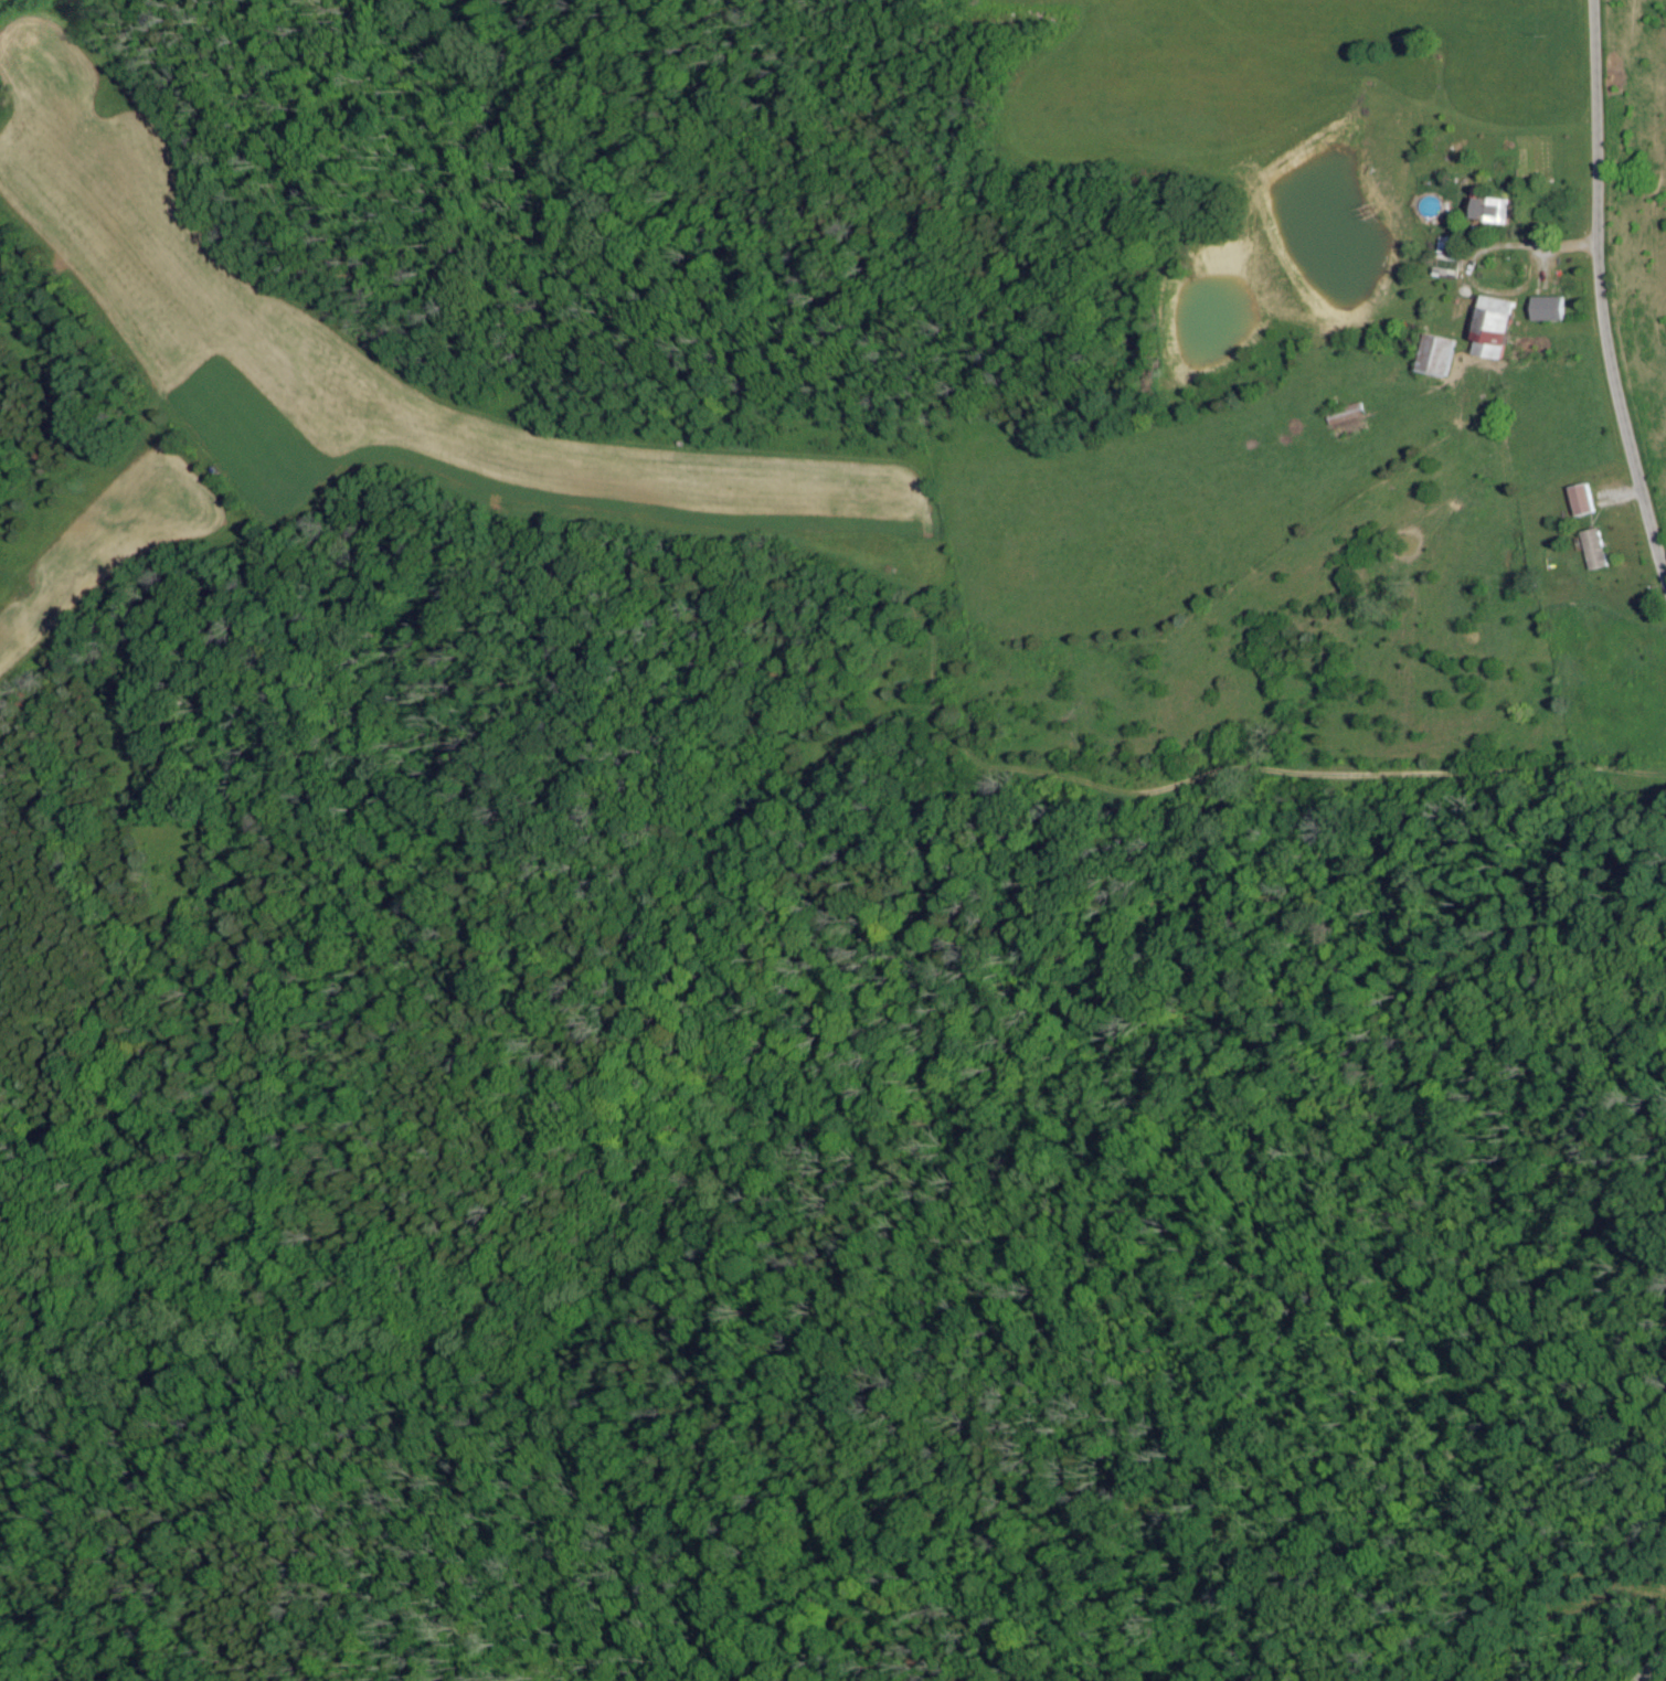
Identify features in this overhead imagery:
building: (1490, 210)
road: (1601, 291)
building: (1548, 310)
building: (1493, 329)
building: (1436, 357)
building: (1581, 501)
building: (1594, 550)
road: (1653, 1666)

